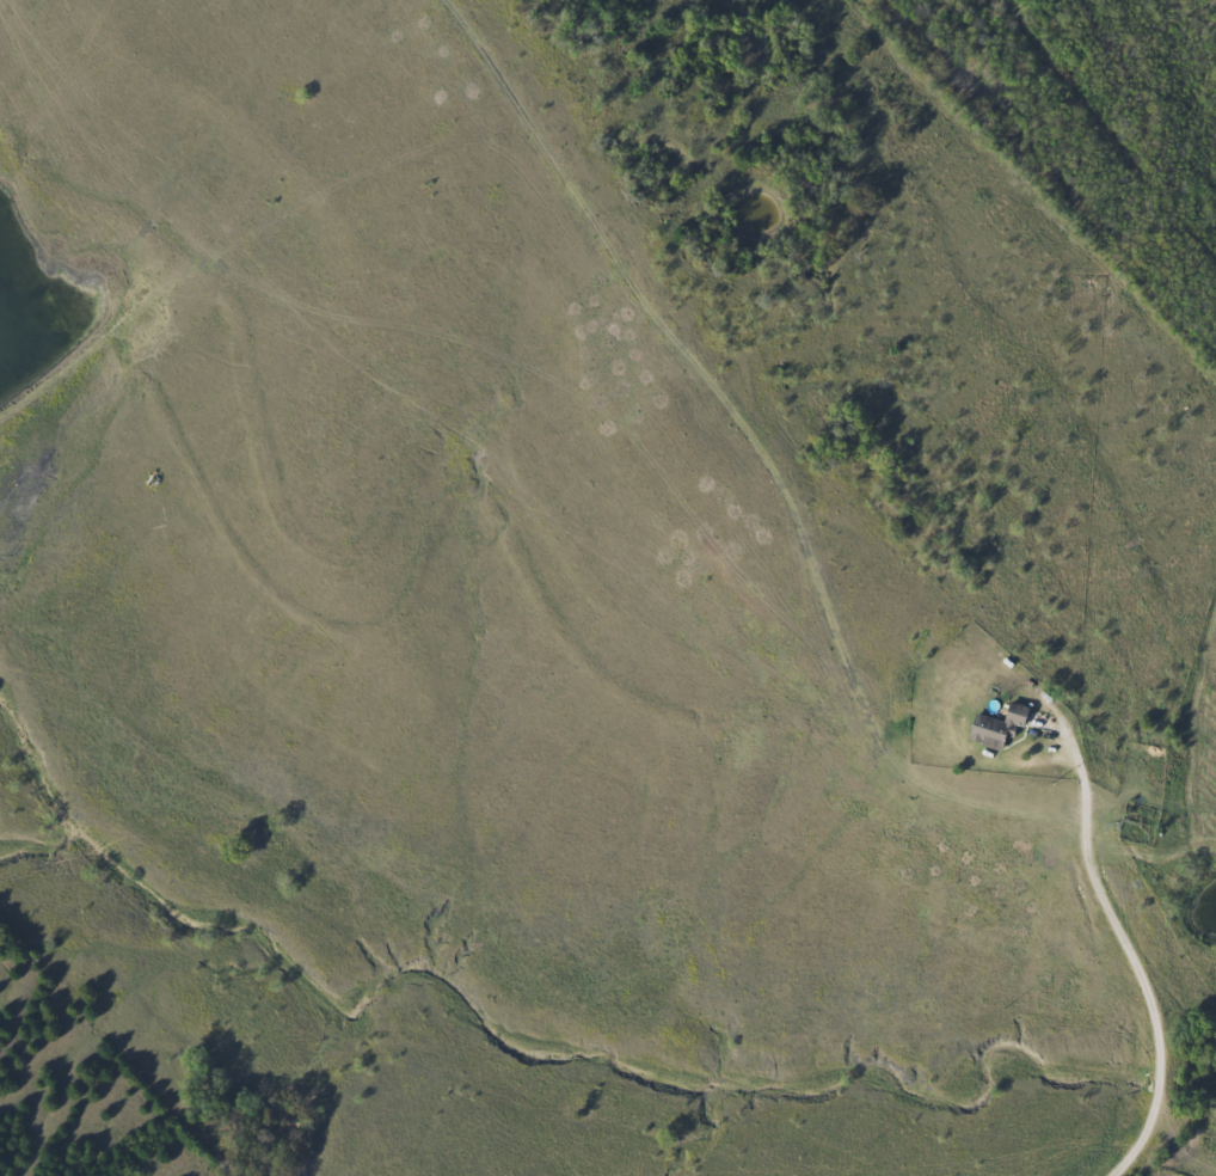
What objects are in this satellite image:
building: (995, 727)
road: (1131, 948)

